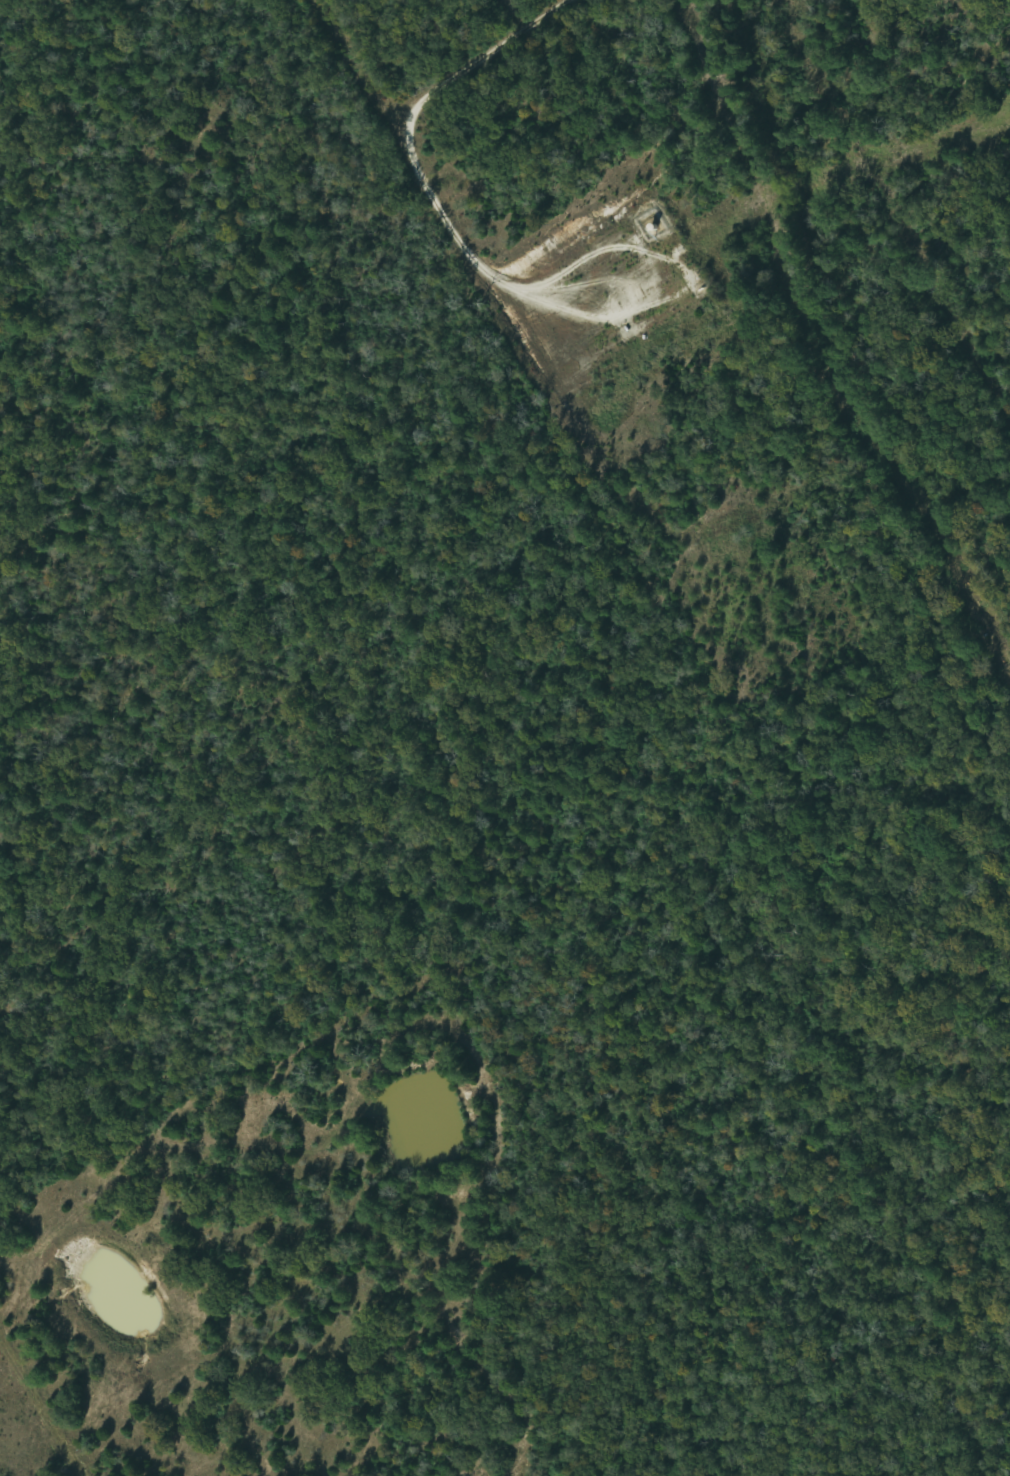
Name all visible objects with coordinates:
road: (468, 112)
road: (865, 301)

